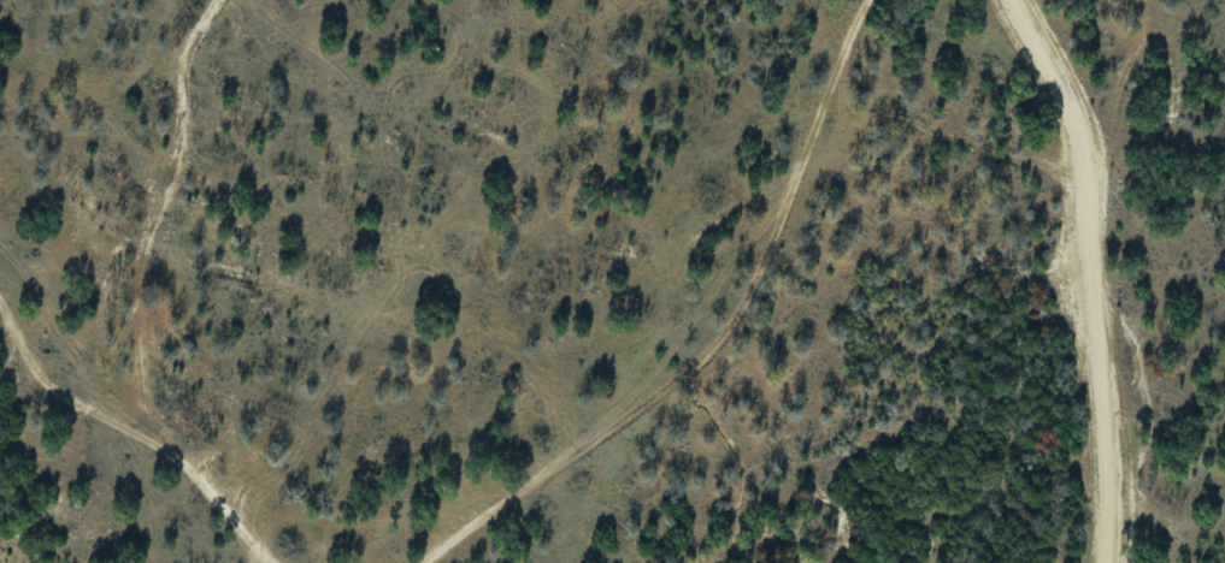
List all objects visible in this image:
road: (1093, 274)

